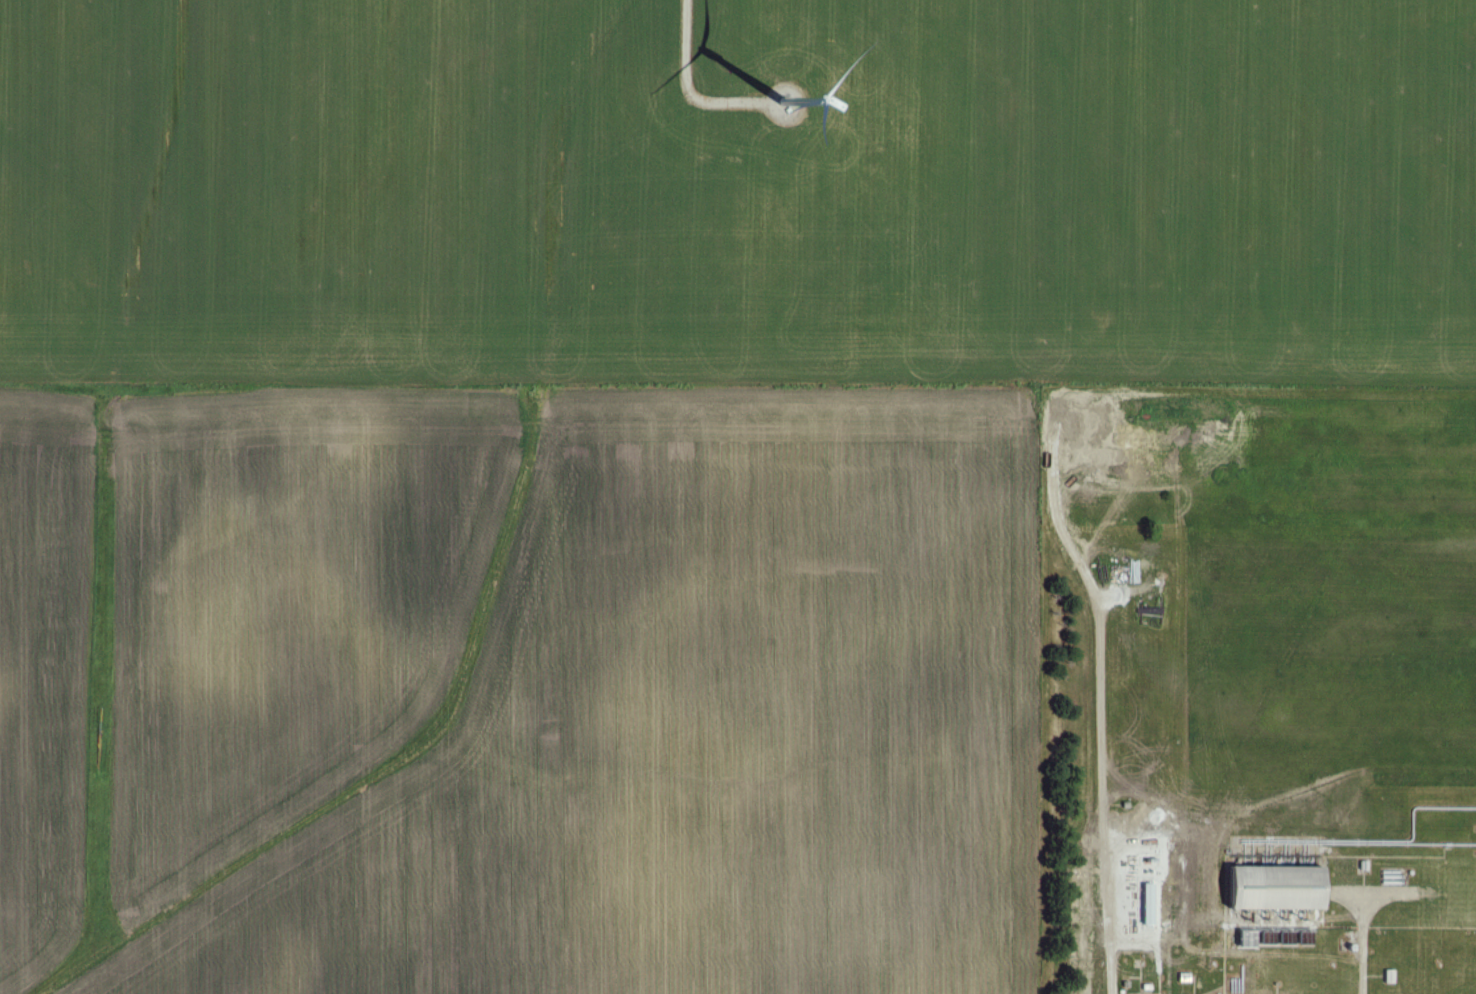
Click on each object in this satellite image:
road: (688, 50)
wind turbine: (784, 100)
road: (1360, 945)

